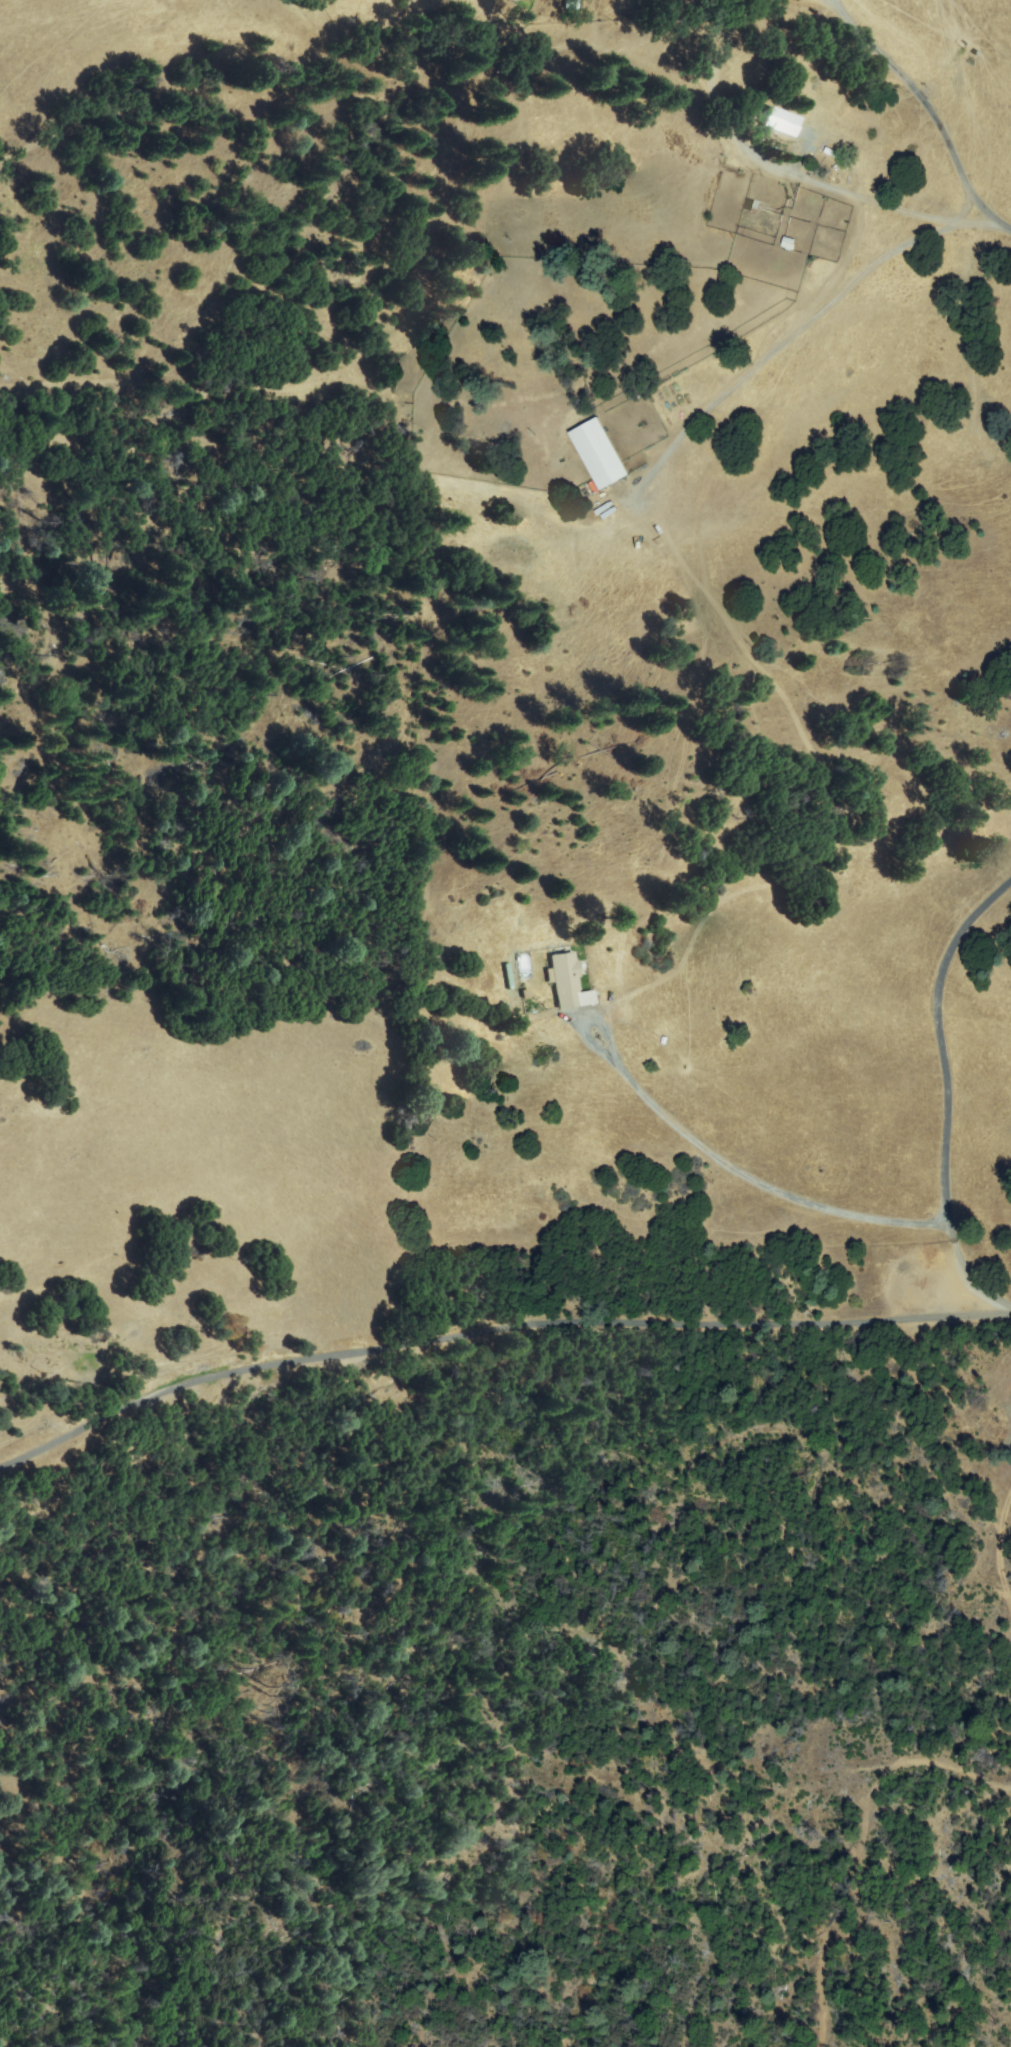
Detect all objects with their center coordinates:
building: (571, 4)
road: (932, 112)
building: (785, 131)
road: (783, 165)
building: (600, 454)
building: (566, 981)
road: (946, 1090)
road: (493, 1332)

